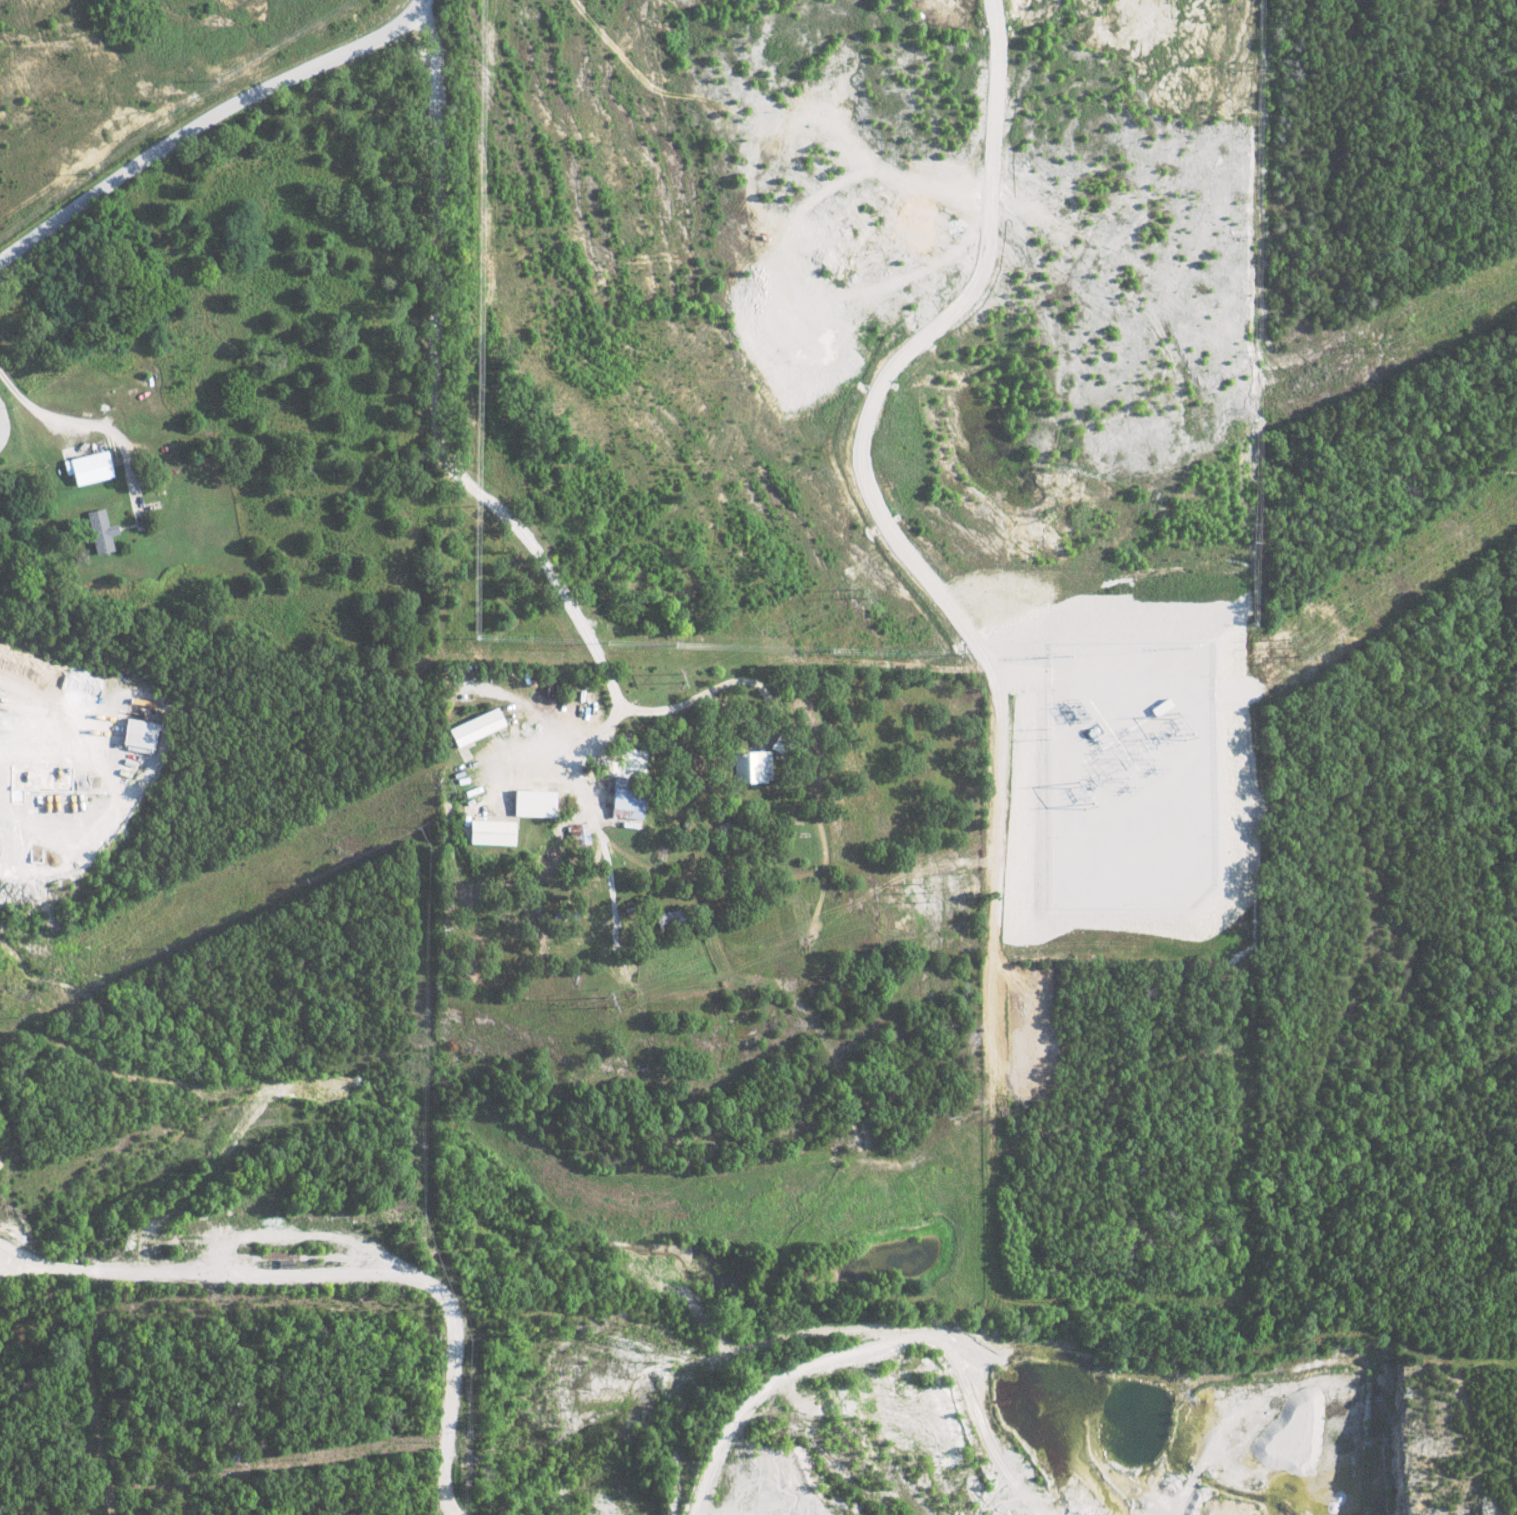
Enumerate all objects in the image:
road: (203, 121)
power tower: (1370, 353)
road: (87, 422)
building: (87, 467)
building: (99, 531)
power tower: (860, 590)
power tower: (1259, 672)
power tower: (603, 712)
building: (476, 727)
building: (139, 735)
building: (752, 767)
power tower: (451, 786)
building: (534, 802)
building: (625, 802)
building: (489, 832)
building: (578, 834)
power tower: (946, 889)
power tower: (607, 1003)
road: (340, 1273)
quarry: (938, 1430)

